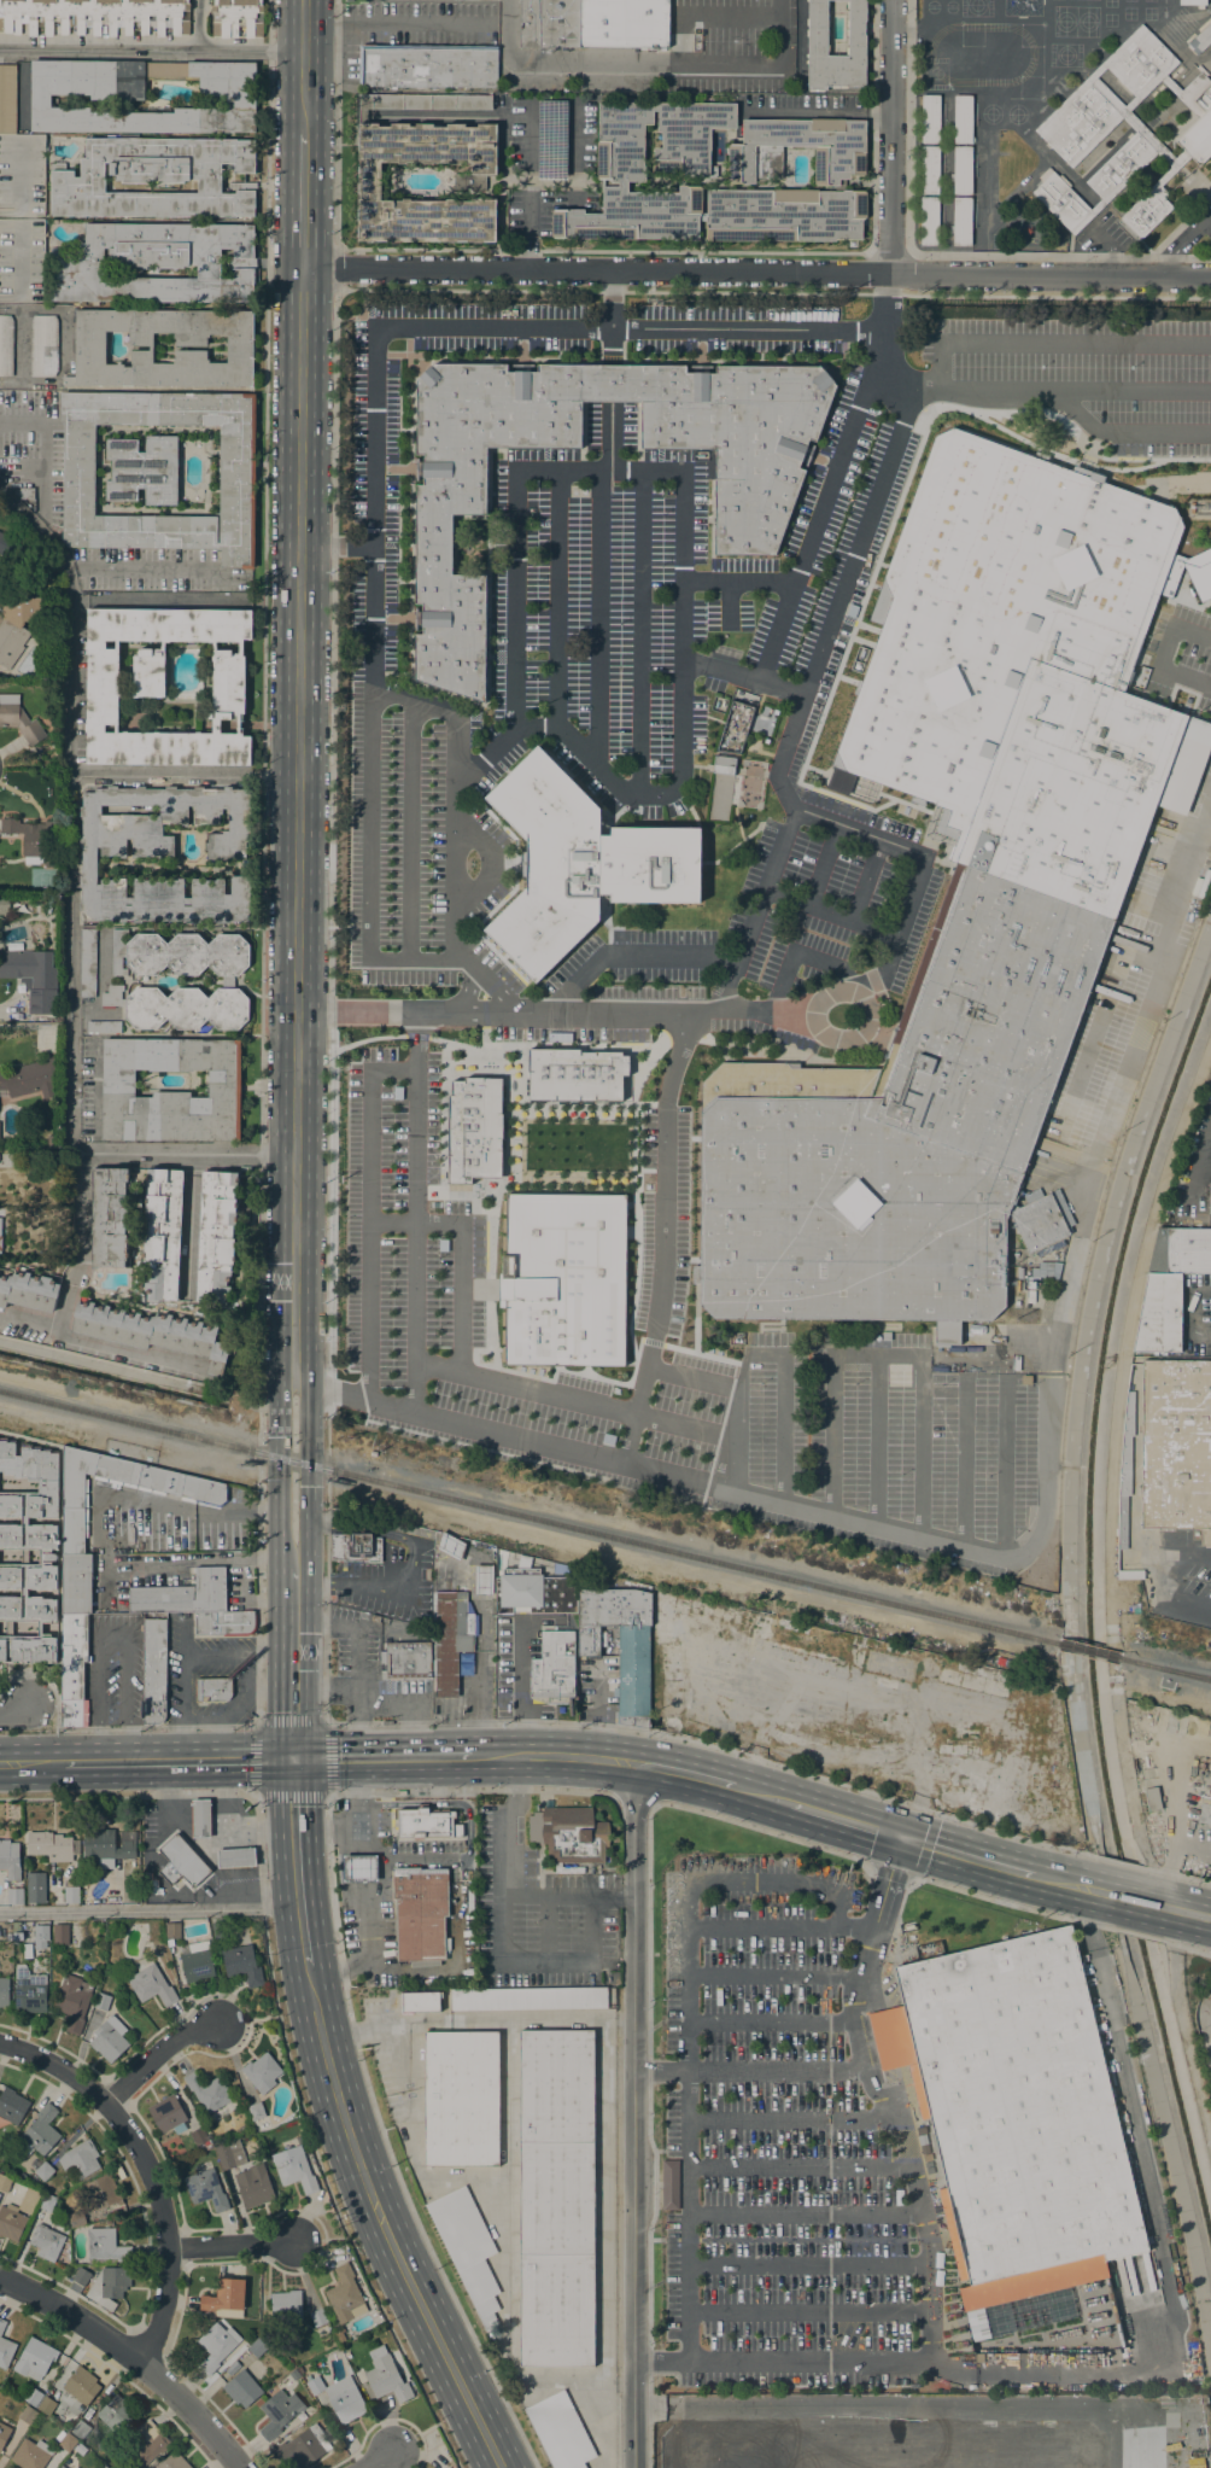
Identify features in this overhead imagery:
building: (1192, 2)
building: (94, 16)
building: (236, 18)
building: (549, 23)
building: (624, 23)
road: (396, 24)
road: (197, 25)
building: (1200, 39)
building: (818, 46)
road: (151, 51)
road: (645, 64)
building: (427, 66)
road: (302, 68)
building: (1170, 84)
building: (140, 95)
building: (1105, 95)
building: (7, 98)
road: (455, 116)
building: (930, 119)
building: (963, 119)
building: (1198, 129)
road: (889, 136)
road: (573, 142)
building: (1156, 147)
building: (754, 162)
building: (1119, 167)
building: (484, 168)
building: (929, 170)
building: (961, 170)
building: (22, 176)
building: (154, 177)
road: (552, 181)
building: (695, 186)
road: (531, 187)
road: (302, 202)
building: (1063, 203)
building: (1098, 205)
building: (1146, 210)
building: (929, 220)
building: (961, 220)
road: (1181, 243)
road: (604, 251)
road: (934, 255)
building: (22, 261)
building: (157, 263)
road: (335, 269)
road: (756, 272)
road: (609, 317)
building: (5, 345)
building: (42, 345)
road: (1058, 345)
building: (89, 348)
building: (929, 352)
road: (609, 383)
road: (907, 386)
road: (1080, 391)
road: (609, 406)
road: (373, 410)
road: (1130, 434)
road: (610, 439)
road: (41, 453)
building: (142, 469)
building: (236, 469)
road: (561, 469)
road: (829, 479)
building: (27, 492)
building: (748, 533)
road: (335, 544)
building: (7, 547)
road: (140, 567)
road: (735, 584)
road: (555, 599)
road: (727, 602)
road: (597, 617)
road: (642, 631)
building: (11, 641)
road: (1163, 654)
road: (815, 664)
road: (742, 677)
building: (163, 685)
road: (444, 712)
building: (738, 714)
building: (18, 718)
building: (732, 734)
road: (419, 758)
building: (722, 765)
road: (185, 775)
road: (297, 804)
building: (35, 840)
building: (163, 854)
road: (454, 858)
road: (375, 863)
building: (578, 863)
road: (489, 865)
road: (821, 867)
road: (865, 881)
building: (964, 894)
building: (4, 905)
road: (372, 909)
road: (69, 915)
road: (831, 917)
road: (417, 935)
road: (630, 952)
road: (801, 952)
building: (179, 953)
building: (87, 962)
road: (262, 962)
road: (329, 963)
building: (24, 967)
building: (227, 981)
road: (484, 982)
road: (859, 984)
building: (179, 1007)
road: (613, 1013)
building: (103, 1026)
road: (411, 1040)
building: (574, 1075)
building: (28, 1079)
building: (223, 1081)
building: (473, 1130)
road: (1200, 1162)
road: (1088, 1178)
building: (1210, 1200)
road: (368, 1214)
building: (109, 1218)
road: (191, 1220)
building: (0, 1221)
building: (162, 1233)
building: (215, 1236)
road: (661, 1237)
road: (415, 1239)
road: (458, 1254)
road: (75, 1271)
building: (1043, 1271)
building: (1018, 1272)
building: (562, 1279)
building: (1016, 1285)
building: (1169, 1285)
building: (28, 1290)
road: (1190, 1312)
building: (151, 1332)
road: (128, 1350)
road: (876, 1354)
road: (765, 1359)
building: (971, 1363)
building: (1024, 1379)
road: (522, 1390)
road: (502, 1434)
traffic signals: (276, 1436)
road: (833, 1436)
road: (876, 1441)
road: (919, 1446)
road: (1111, 1446)
building: (1176, 1447)
road: (276, 1449)
road: (308, 1449)
road: (963, 1469)
building: (1124, 1470)
traffic signals: (309, 1487)
building: (72, 1503)
railway: (527, 1517)
road: (100, 1530)
road: (930, 1540)
building: (356, 1545)
building: (450, 1546)
building: (43, 1550)
building: (522, 1560)
building: (560, 1569)
building: (1129, 1574)
building: (482, 1580)
road: (1163, 1580)
building: (75, 1583)
road: (374, 1589)
building: (533, 1592)
building: (182, 1594)
building: (223, 1622)
building: (450, 1636)
building: (620, 1644)
railway: (1088, 1650)
road: (186, 1652)
road: (293, 1658)
building: (406, 1659)
building: (552, 1667)
building: (72, 1668)
railway: (1165, 1668)
building: (153, 1670)
railway: (1188, 1673)
road: (45, 1680)
building: (212, 1688)
road: (355, 1690)
road: (118, 1692)
road: (323, 1698)
road: (14, 1706)
road: (326, 1722)
road: (355, 1727)
road: (28, 1731)
road: (551, 1754)
road: (380, 1756)
traffic signals: (293, 1757)
road: (179, 1760)
road: (31, 1762)
road: (684, 1772)
road: (516, 1785)
road: (762, 1795)
road: (633, 1798)
building: (1152, 1799)
road: (440, 1804)
building: (1204, 1814)
building: (200, 1818)
road: (846, 1819)
building: (425, 1824)
road: (326, 1826)
road: (359, 1826)
building: (568, 1836)
traffic signals: (901, 1836)
building: (52, 1845)
building: (107, 1845)
road: (374, 1853)
road: (966, 1855)
building: (235, 1856)
building: (10, 1859)
road: (425, 1859)
road: (293, 1861)
building: (182, 1862)
road: (1118, 1862)
road: (915, 1866)
building: (359, 1867)
gas station: (359, 1867)
road: (1175, 1874)
road: (1063, 1881)
road: (1156, 1881)
building: (35, 1886)
road: (1099, 1890)
building: (70, 1894)
building: (14, 1895)
road: (560, 1897)
road: (625, 1897)
road: (1128, 1897)
road: (1012, 1904)
road: (1157, 1904)
road: (148, 1910)
road: (1186, 1912)
building: (420, 1914)
road: (1086, 1918)
road: (762, 1927)
road: (842, 1927)
building: (218, 1929)
road: (1168, 1929)
road: (367, 1930)
road: (550, 1930)
building: (171, 1931)
building: (41, 1932)
building: (59, 1933)
road: (1136, 1935)
road: (1186, 1945)
building: (27, 1950)
building: (195, 1960)
building: (241, 1964)
road: (504, 1964)
road: (338, 1967)
road: (773, 1976)
building: (151, 1985)
building: (29, 1989)
building: (4, 1991)
building: (72, 2001)
building: (101, 2001)
road: (347, 2005)
airport: (1200, 2008)
road: (277, 2019)
road: (246, 2020)
road: (770, 2023)
road: (648, 2024)
building: (109, 2038)
road: (1188, 2050)
building: (261, 2071)
road: (777, 2071)
road: (661, 2073)
building: (207, 2090)
road: (882, 2094)
road: (110, 2095)
building: (11, 2106)
building: (255, 2111)
building: (165, 2112)
road: (634, 2114)
building: (1014, 2116)
road: (791, 2119)
building: (39, 2131)
building: (198, 2136)
parking lot: (774, 2147)
building: (230, 2154)
building: (250, 2155)
building: (78, 2159)
road: (688, 2166)
road: (798, 2167)
building: (293, 2169)
building: (43, 2171)
building: (4, 2182)
building: (517, 2182)
building: (669, 2184)
building: (253, 2186)
building: (205, 2189)
building: (101, 2190)
road: (616, 2199)
building: (46, 2201)
building: (17, 2215)
road: (805, 2215)
building: (75, 2218)
road: (382, 2223)
road: (164, 2225)
road: (213, 2229)
road: (321, 2237)
building: (48, 2242)
road: (232, 2244)
building: (105, 2245)
road: (808, 2264)
road: (1163, 2269)
building: (80, 2276)
building: (107, 2286)
building: (224, 2295)
building: (345, 2295)
building: (286, 2304)
road: (599, 2307)
road: (69, 2311)
road: (808, 2312)
building: (317, 2317)
building: (1, 2324)
building: (339, 2335)
building: (216, 2345)
building: (257, 2347)
building: (5, 2351)
building: (978, 2357)
building: (34, 2358)
road: (661, 2363)
building: (293, 2374)
building: (385, 2375)
building: (889, 2376)
building: (907, 2377)
building: (897, 2379)
road: (616, 2381)
building: (81, 2385)
building: (315, 2385)
building: (241, 2388)
building: (33, 2397)
building: (347, 2404)
building: (46, 2405)
road: (188, 2409)
building: (277, 2412)
building: (27, 2414)
building: (116, 2414)
road: (382, 2419)
road: (616, 2428)
building: (80, 2429)
building: (4, 2433)
road: (414, 2435)
building: (64, 2440)
building: (144, 2444)
building: (303, 2445)
building: (80, 2449)
building: (31, 2454)
road: (376, 2458)
building: (172, 2462)
building: (112, 2463)
building: (103, 2466)
building: (60, 2467)
building: (75, 2467)
building: (447, 2467)

